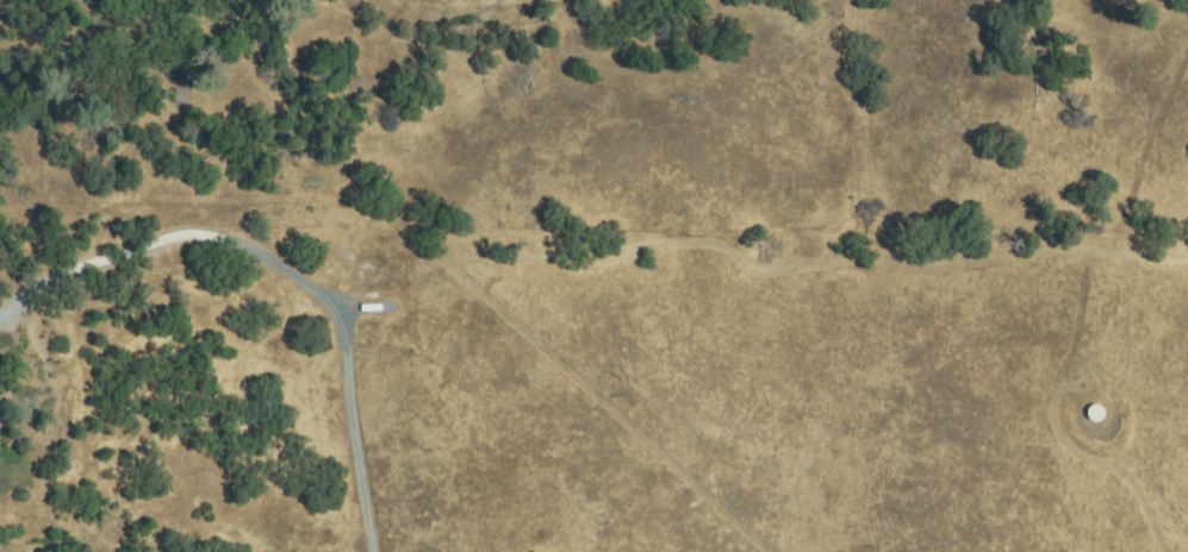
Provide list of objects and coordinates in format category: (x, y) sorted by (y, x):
building: (390, 303)
storage tank: (1096, 413)

